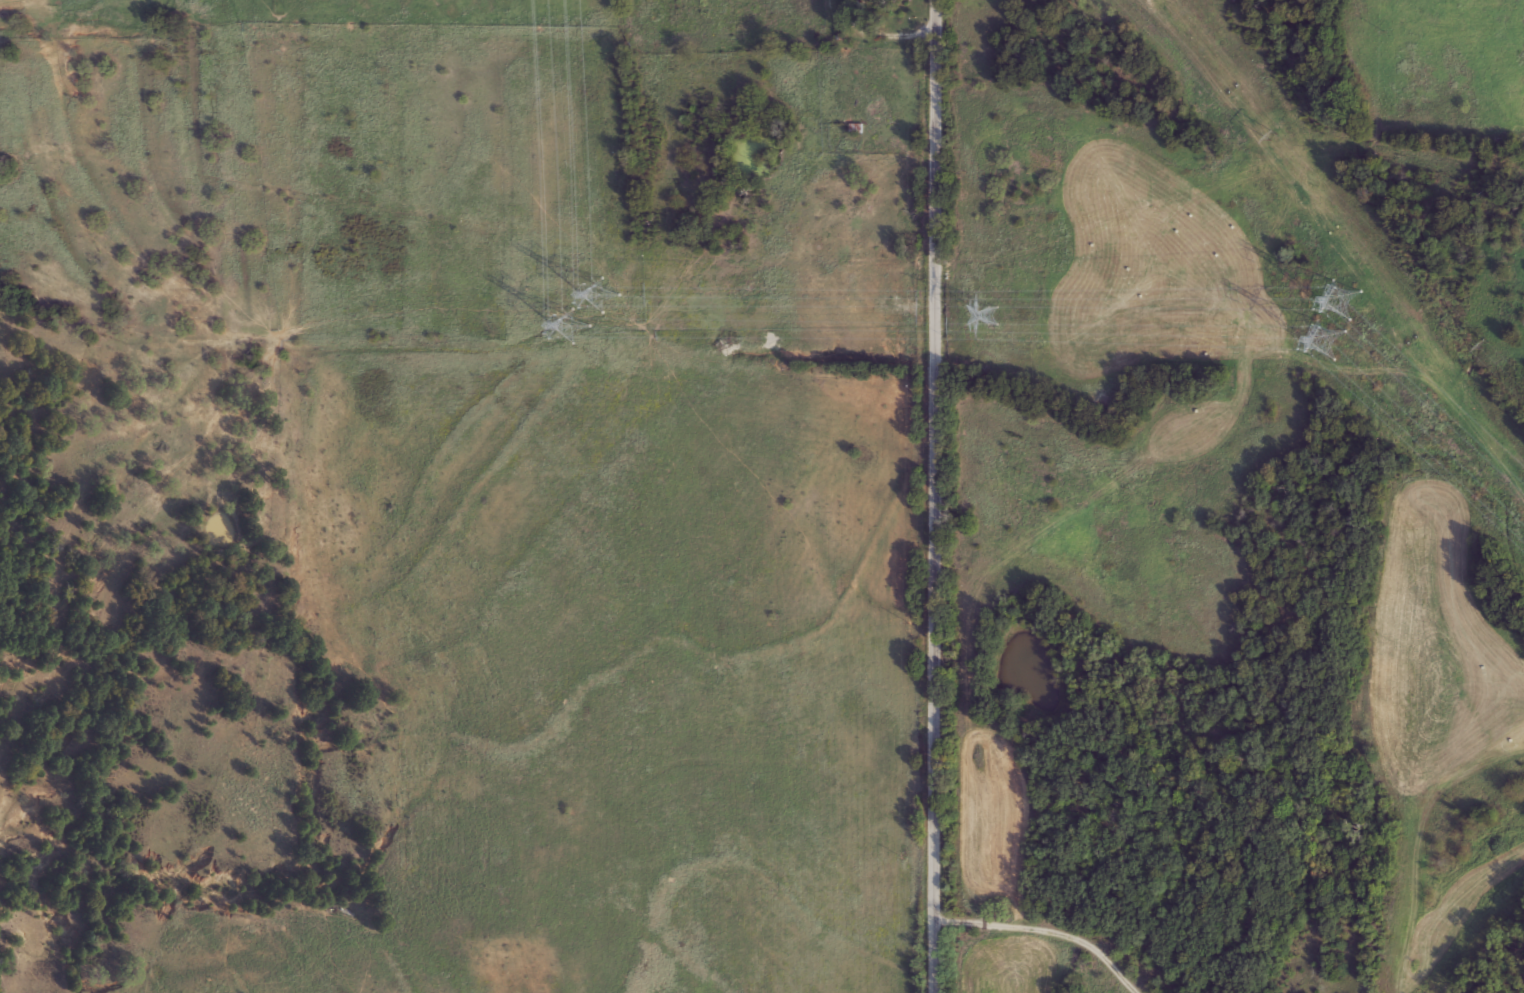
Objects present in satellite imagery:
power tower: (589, 311)
power tower: (991, 315)
power tower: (1334, 322)
road: (925, 496)

